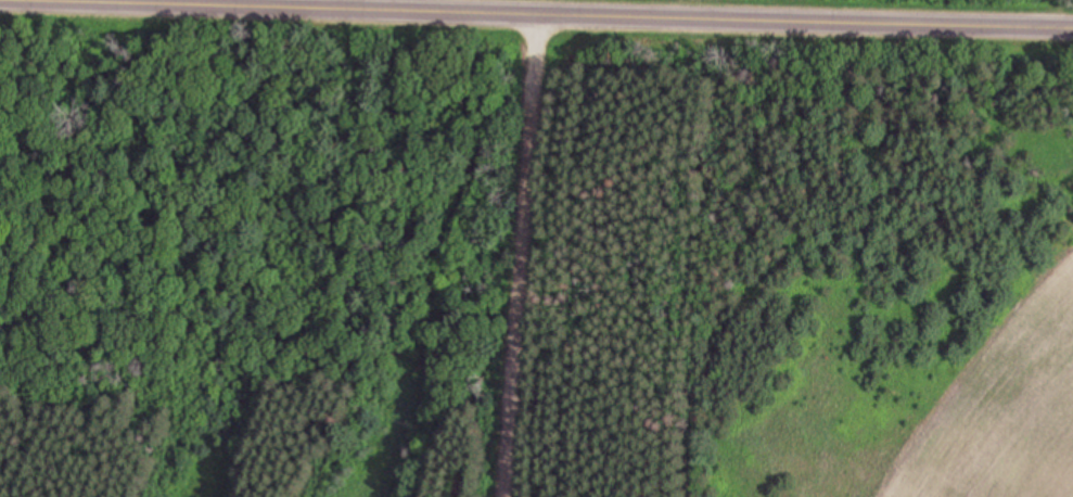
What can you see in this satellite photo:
road: (679, 10)
road: (525, 252)
crop: (1008, 416)

